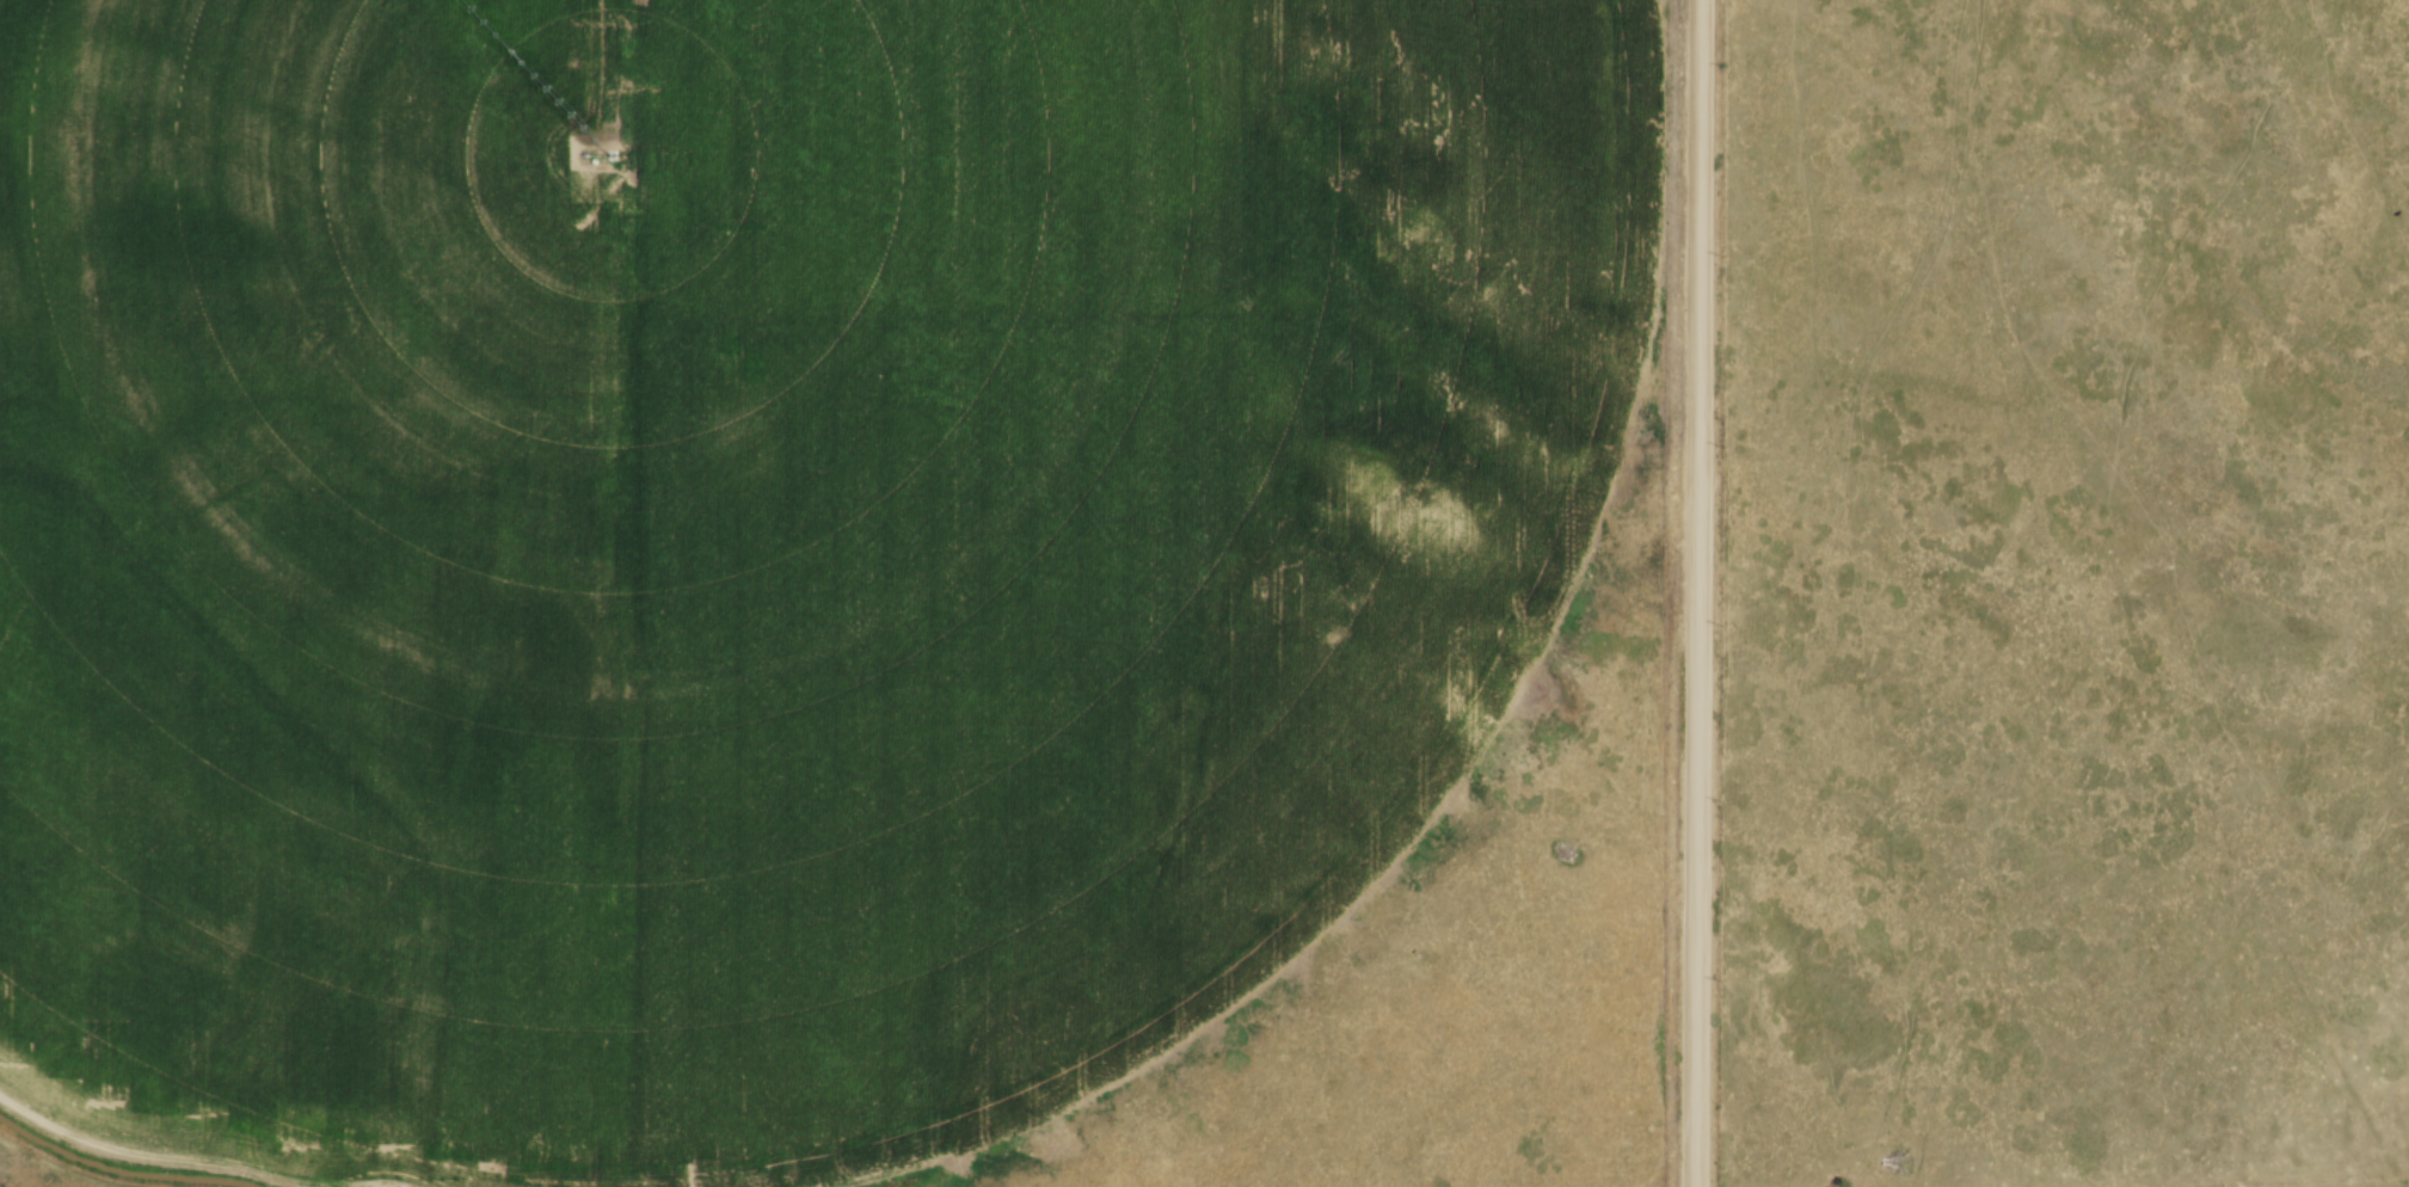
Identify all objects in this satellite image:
crop: (752, 543)
road: (1685, 593)

